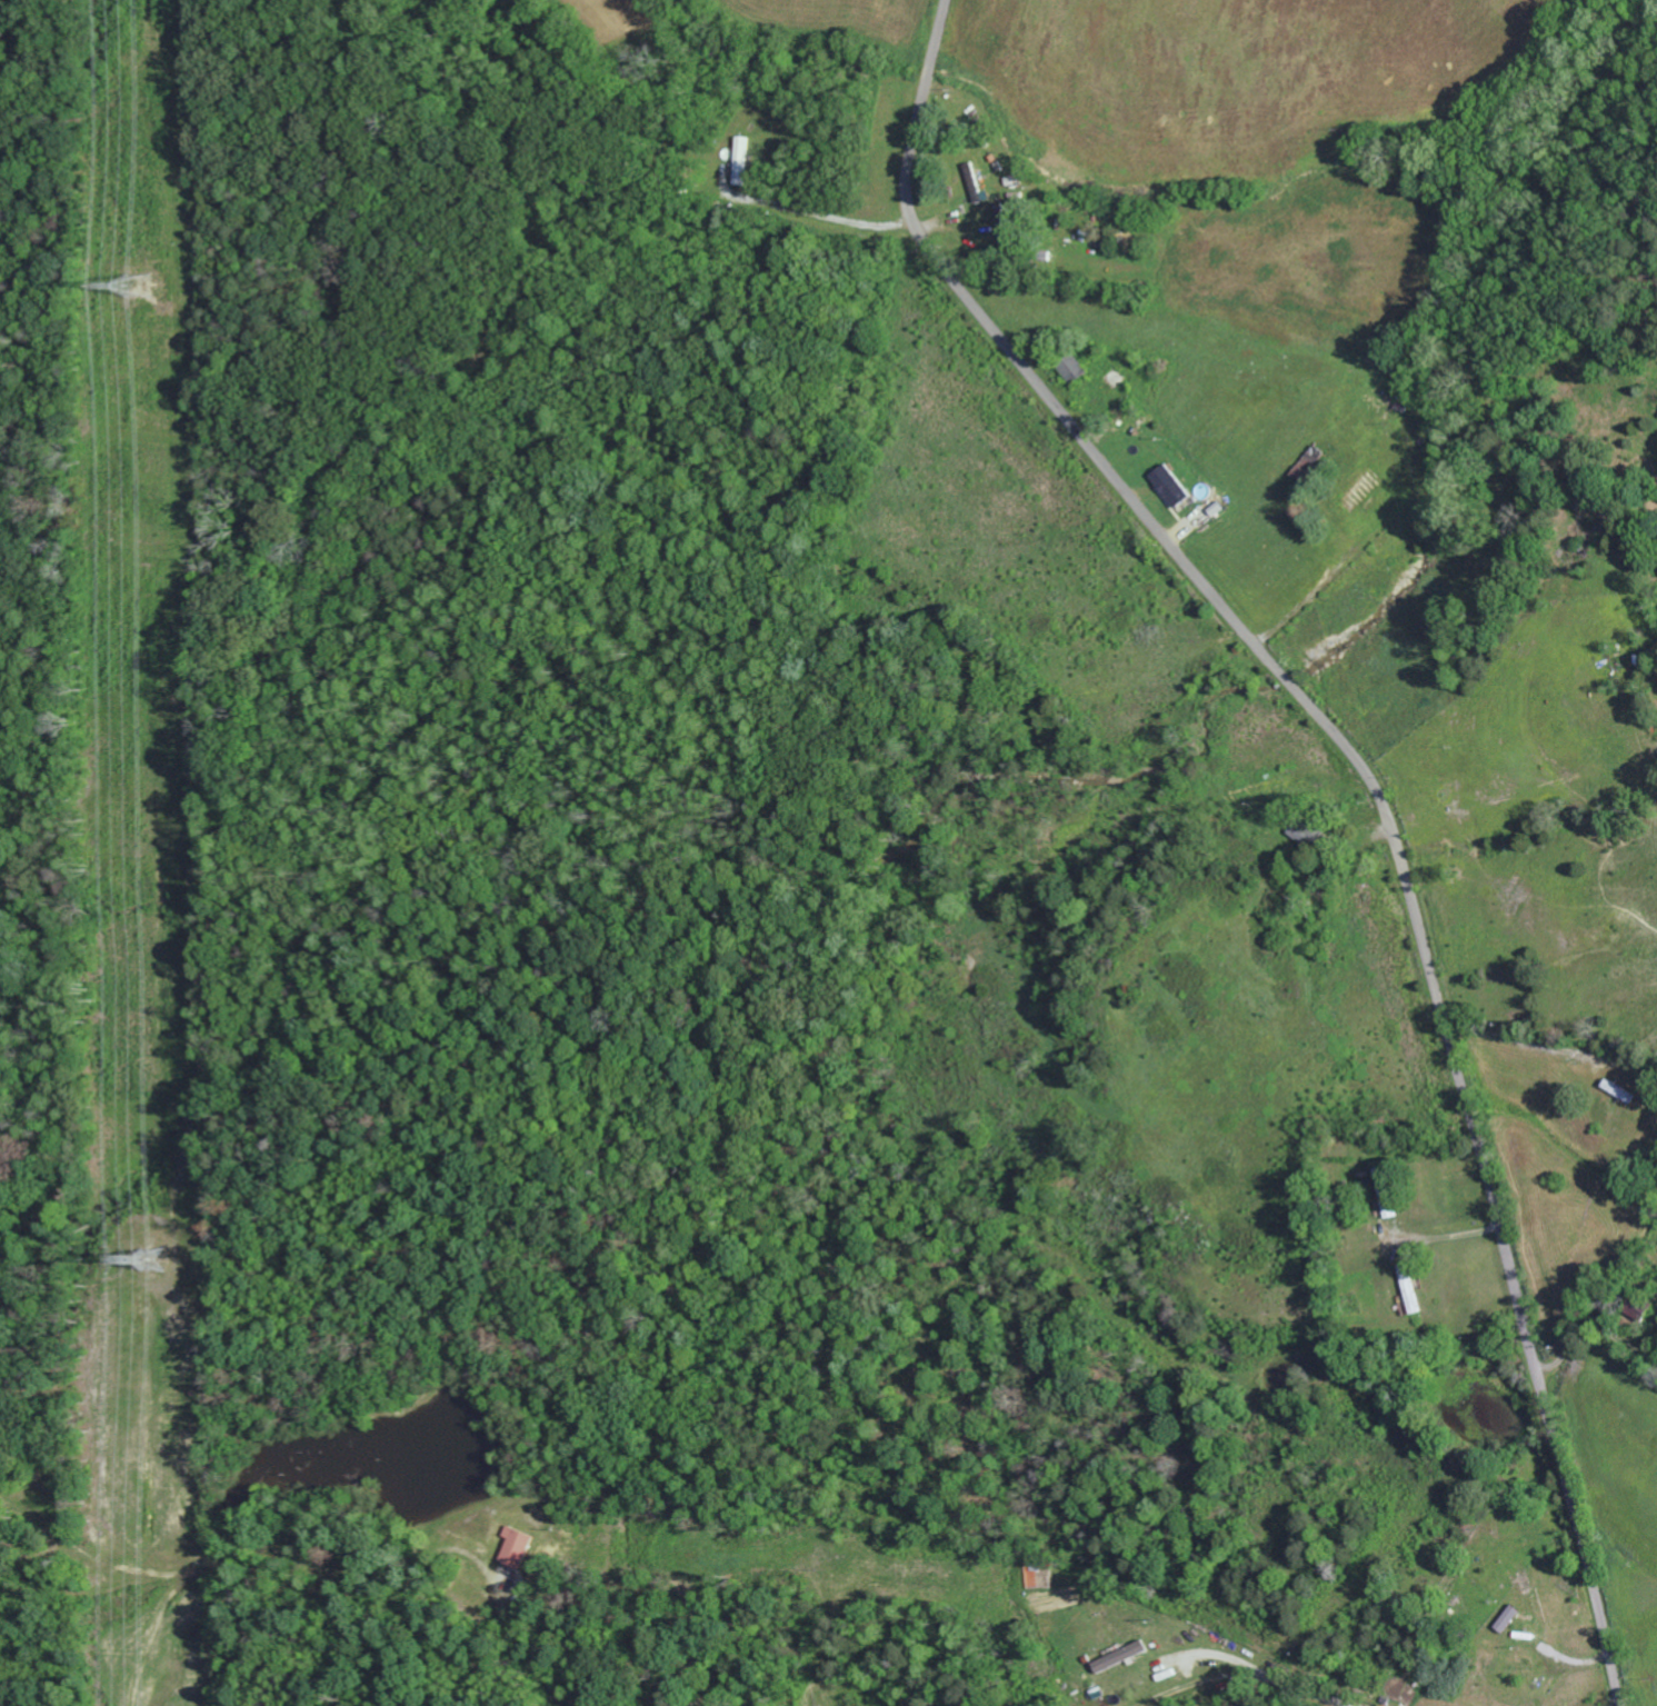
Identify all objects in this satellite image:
power tower: (142, 288)
building: (1174, 487)
road: (1369, 786)
building: (1308, 831)
building: (1388, 1191)
power tower: (153, 1258)
building: (518, 1547)
building: (1120, 1656)
road: (1279, 1676)

